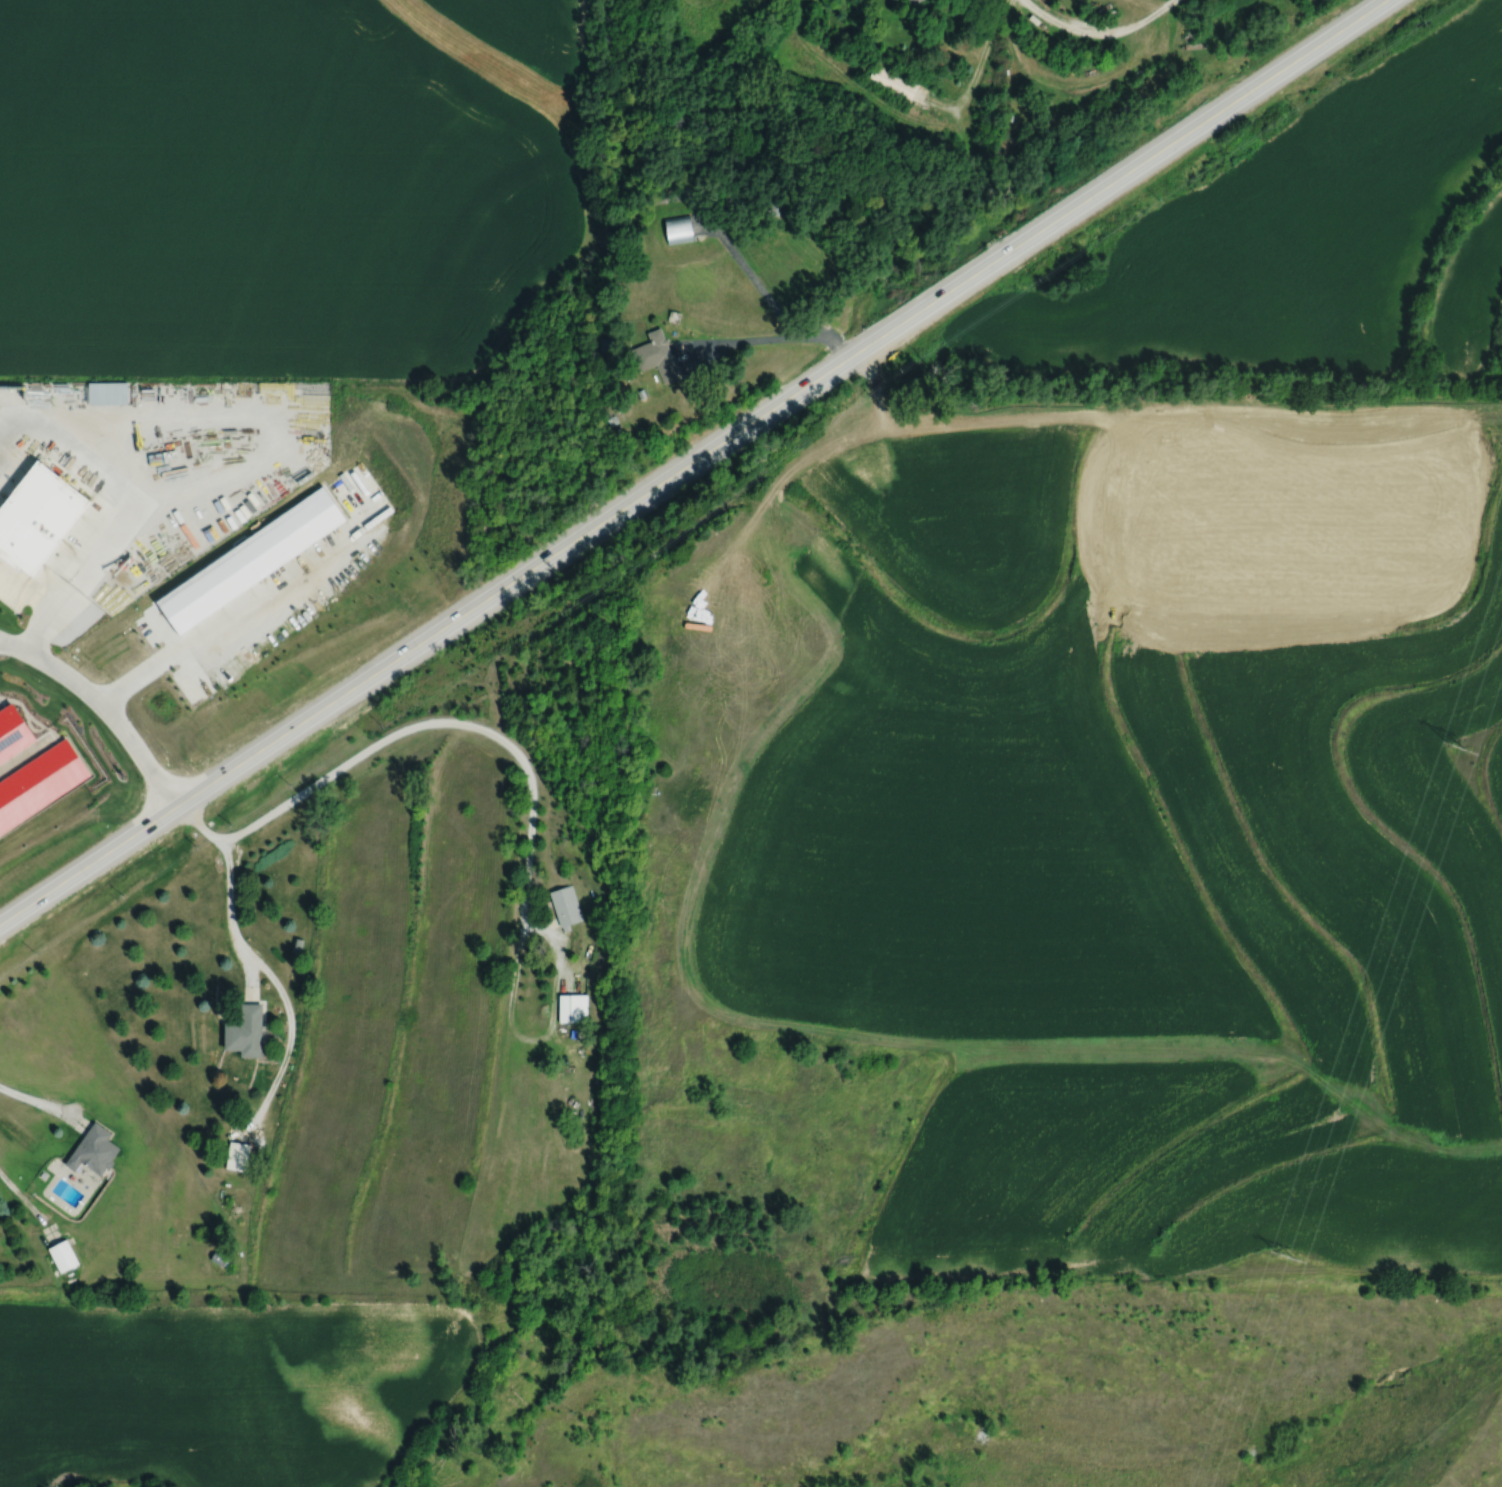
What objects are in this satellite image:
building: (908, 2)
road: (1098, 32)
road: (980, 61)
building: (890, 82)
building: (758, 211)
building: (676, 231)
road: (767, 346)
building: (605, 348)
building: (655, 355)
road: (696, 466)
road: (136, 507)
road: (221, 617)
road: (103, 709)
road: (432, 730)
power tower: (1461, 751)
building: (565, 906)
road: (231, 926)
building: (571, 1008)
building: (242, 1032)
road: (46, 1111)
building: (90, 1150)
building: (235, 1156)
building: (60, 1256)
power tower: (1287, 1256)

